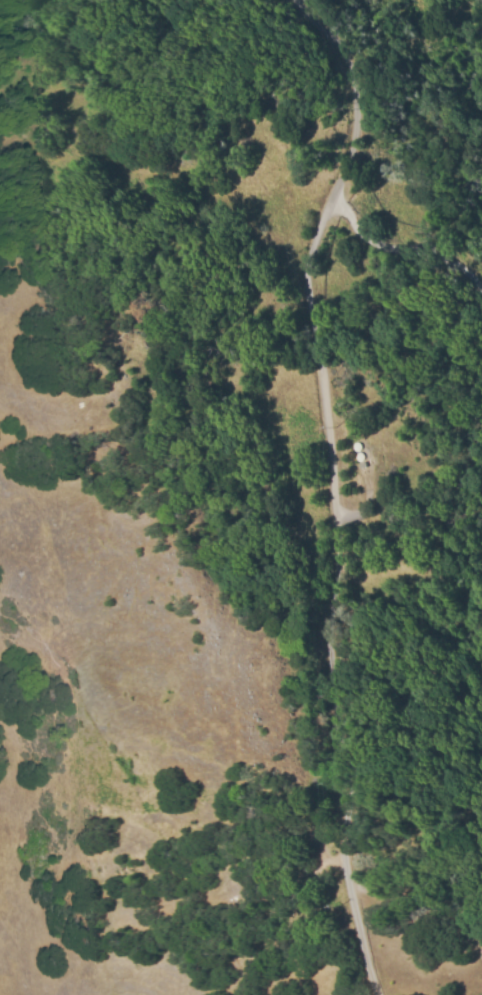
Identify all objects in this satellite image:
road: (310, 246)
road: (404, 251)
road: (327, 759)

